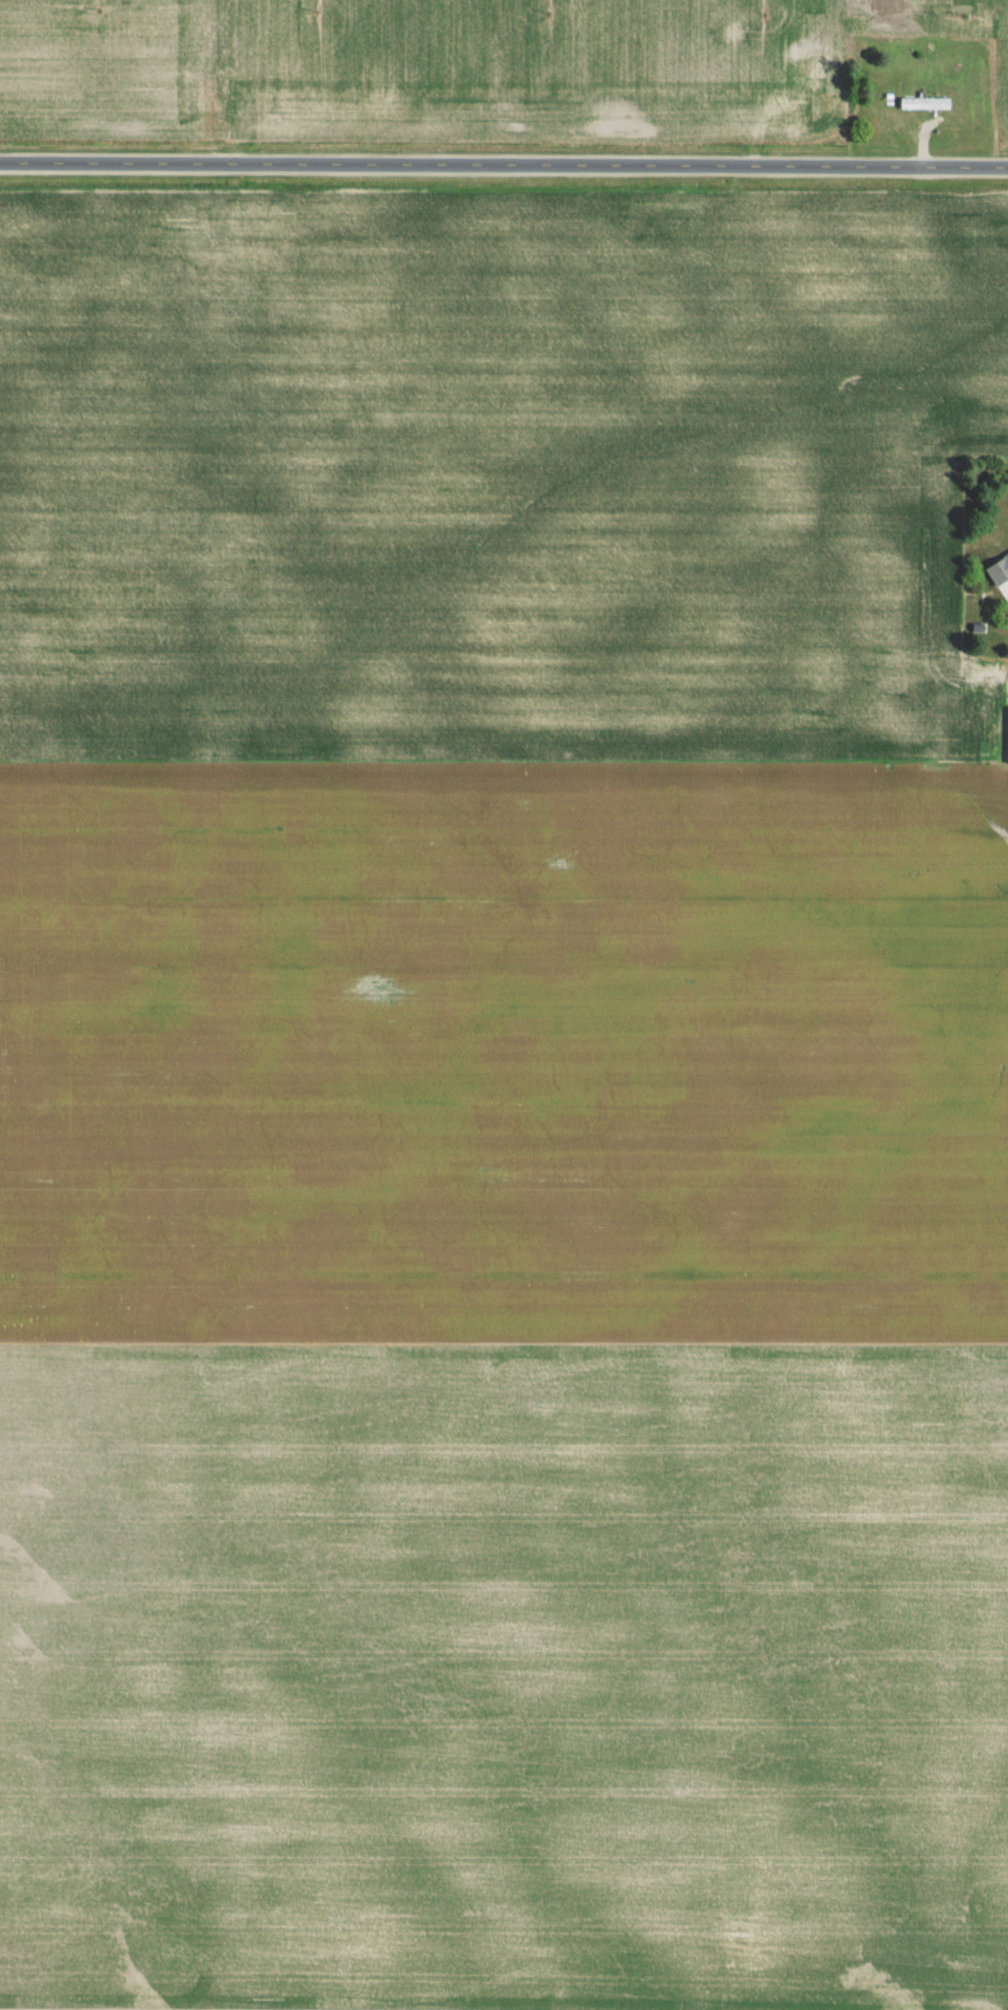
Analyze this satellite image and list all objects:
road: (504, 164)
building: (1003, 561)

